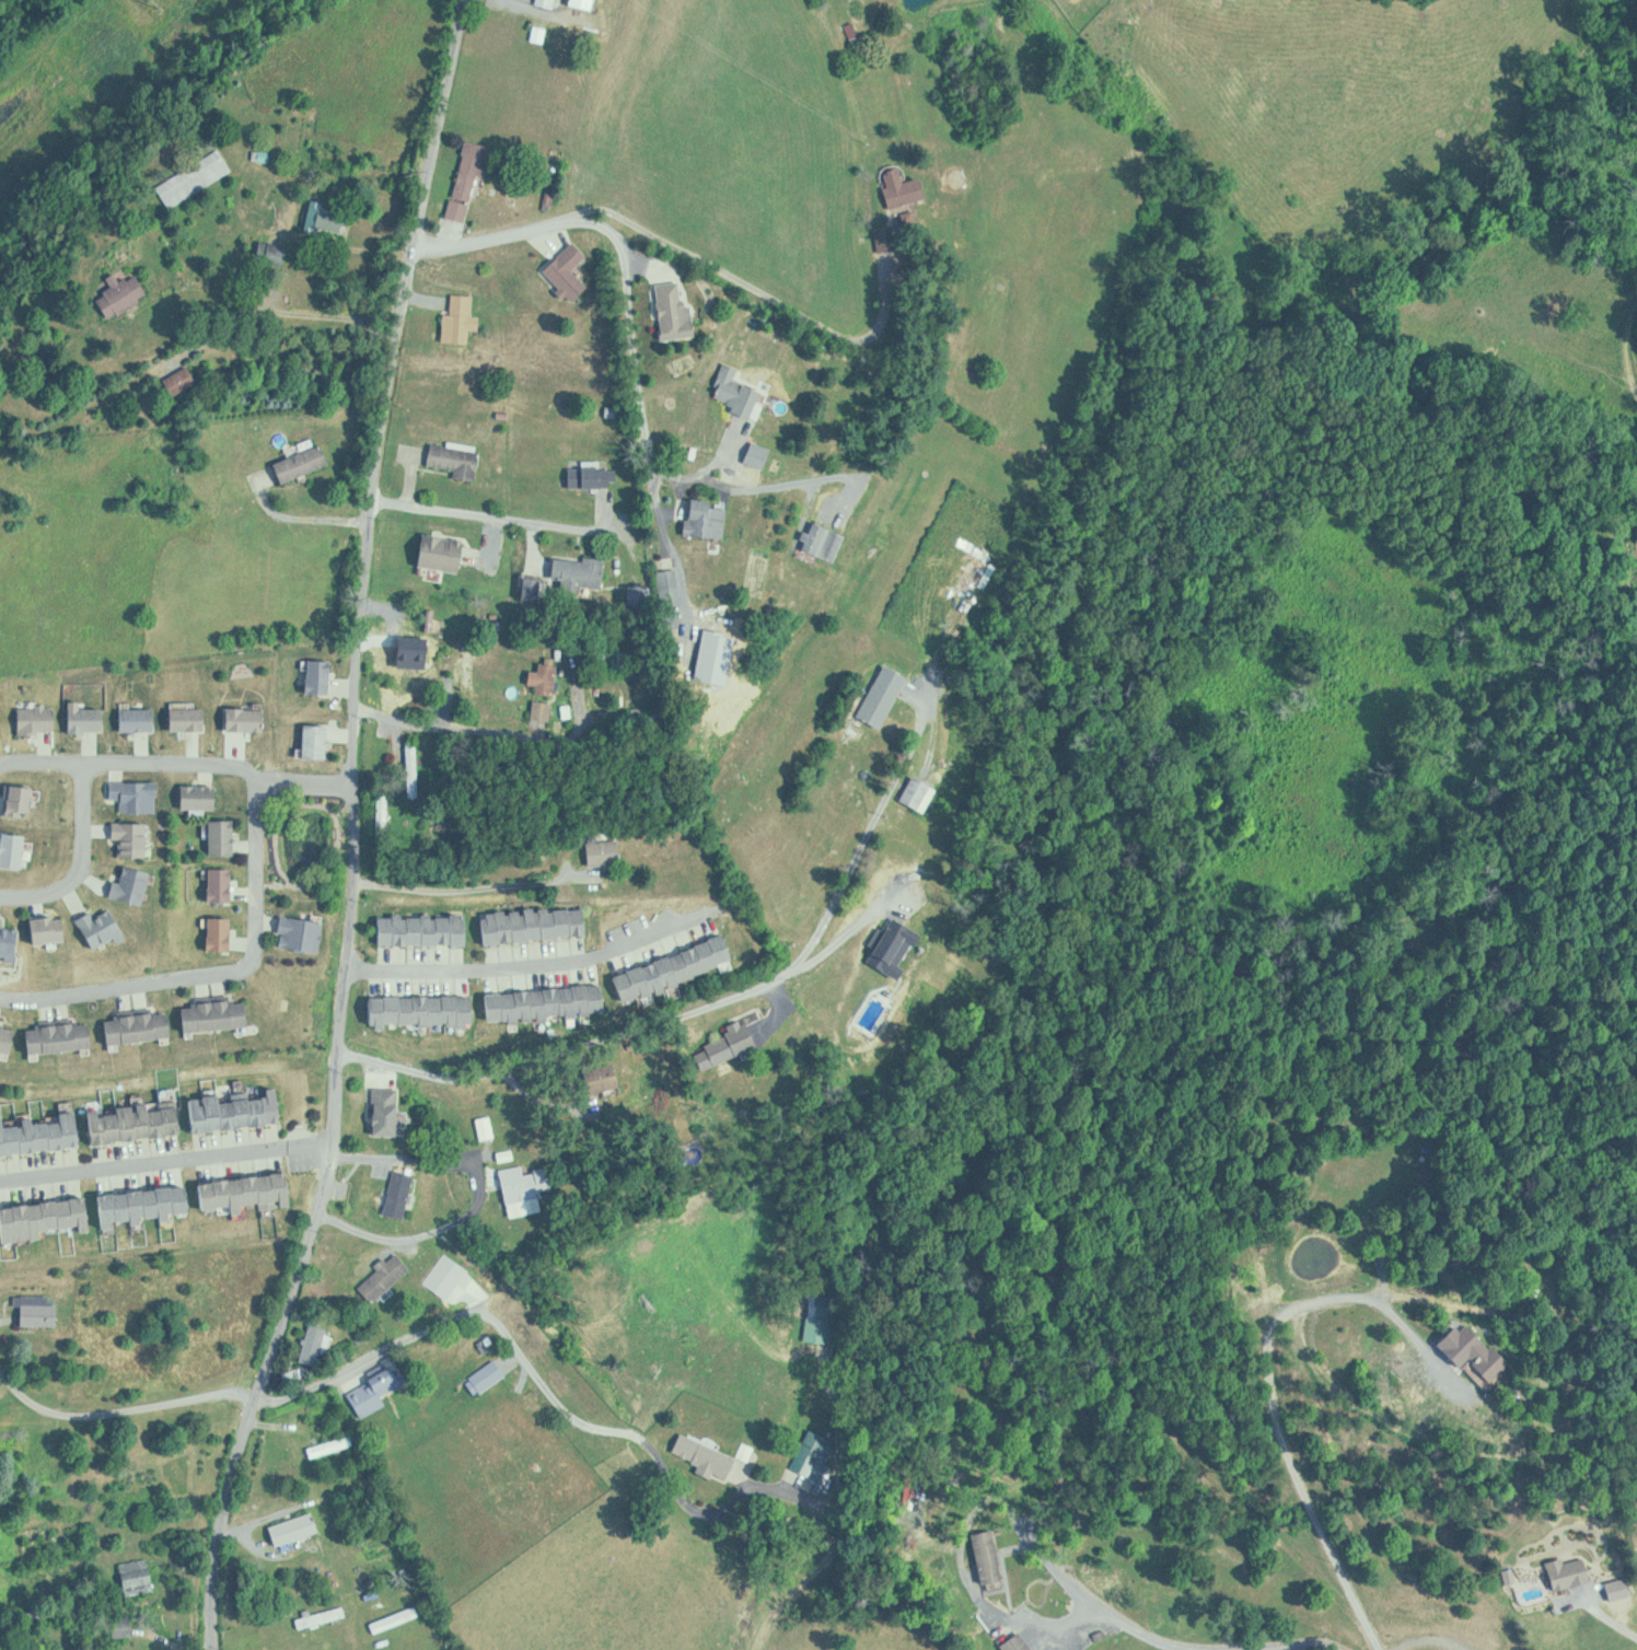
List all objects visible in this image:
building: (548, 2)
building: (587, 3)
building: (472, 176)
building: (199, 179)
building: (906, 187)
building: (329, 218)
road: (499, 230)
building: (279, 253)
building: (570, 271)
building: (128, 291)
building: (677, 312)
building: (463, 319)
building: (183, 380)
building: (739, 391)
road: (650, 392)
building: (458, 460)
building: (304, 463)
building: (595, 475)
road: (499, 515)
building: (706, 518)
building: (825, 539)
building: (444, 553)
building: (581, 572)
building: (977, 573)
building: (472, 664)
building: (323, 676)
building: (547, 695)
building: (882, 705)
building: (191, 716)
building: (40, 717)
building: (89, 717)
building: (141, 718)
building: (247, 718)
building: (0, 719)
road: (450, 729)
building: (320, 740)
road: (221, 765)
building: (924, 792)
building: (138, 794)
building: (202, 795)
building: (23, 799)
road: (84, 818)
road: (353, 828)
building: (225, 836)
building: (135, 837)
building: (15, 848)
building: (607, 851)
road: (326, 875)
building: (135, 883)
building: (223, 884)
road: (458, 891)
building: (537, 923)
building: (107, 927)
building: (54, 928)
building: (426, 929)
building: (303, 931)
building: (223, 933)
building: (11, 939)
road: (538, 966)
building: (678, 968)
road: (219, 974)
building: (549, 1003)
building: (426, 1010)
building: (219, 1015)
building: (142, 1027)
building: (9, 1036)
building: (63, 1037)
building: (732, 1045)
building: (239, 1111)
building: (390, 1112)
building: (138, 1122)
building: (487, 1126)
building: (43, 1134)
road: (170, 1157)
building: (526, 1189)
building: (251, 1192)
building: (403, 1194)
building: (149, 1205)
building: (46, 1218)
building: (386, 1278)
road: (469, 1290)
building: (42, 1311)
road: (155, 1311)
building: (820, 1320)
building: (317, 1343)
building: (1499, 1367)
building: (488, 1376)
building: (392, 1385)
road: (1269, 1390)
building: (334, 1444)
building: (817, 1444)
building: (723, 1465)
building: (298, 1529)
building: (990, 1556)
building: (1572, 1572)
building: (139, 1577)
building: (324, 1617)
building: (126, 1627)
building: (1020, 1642)

